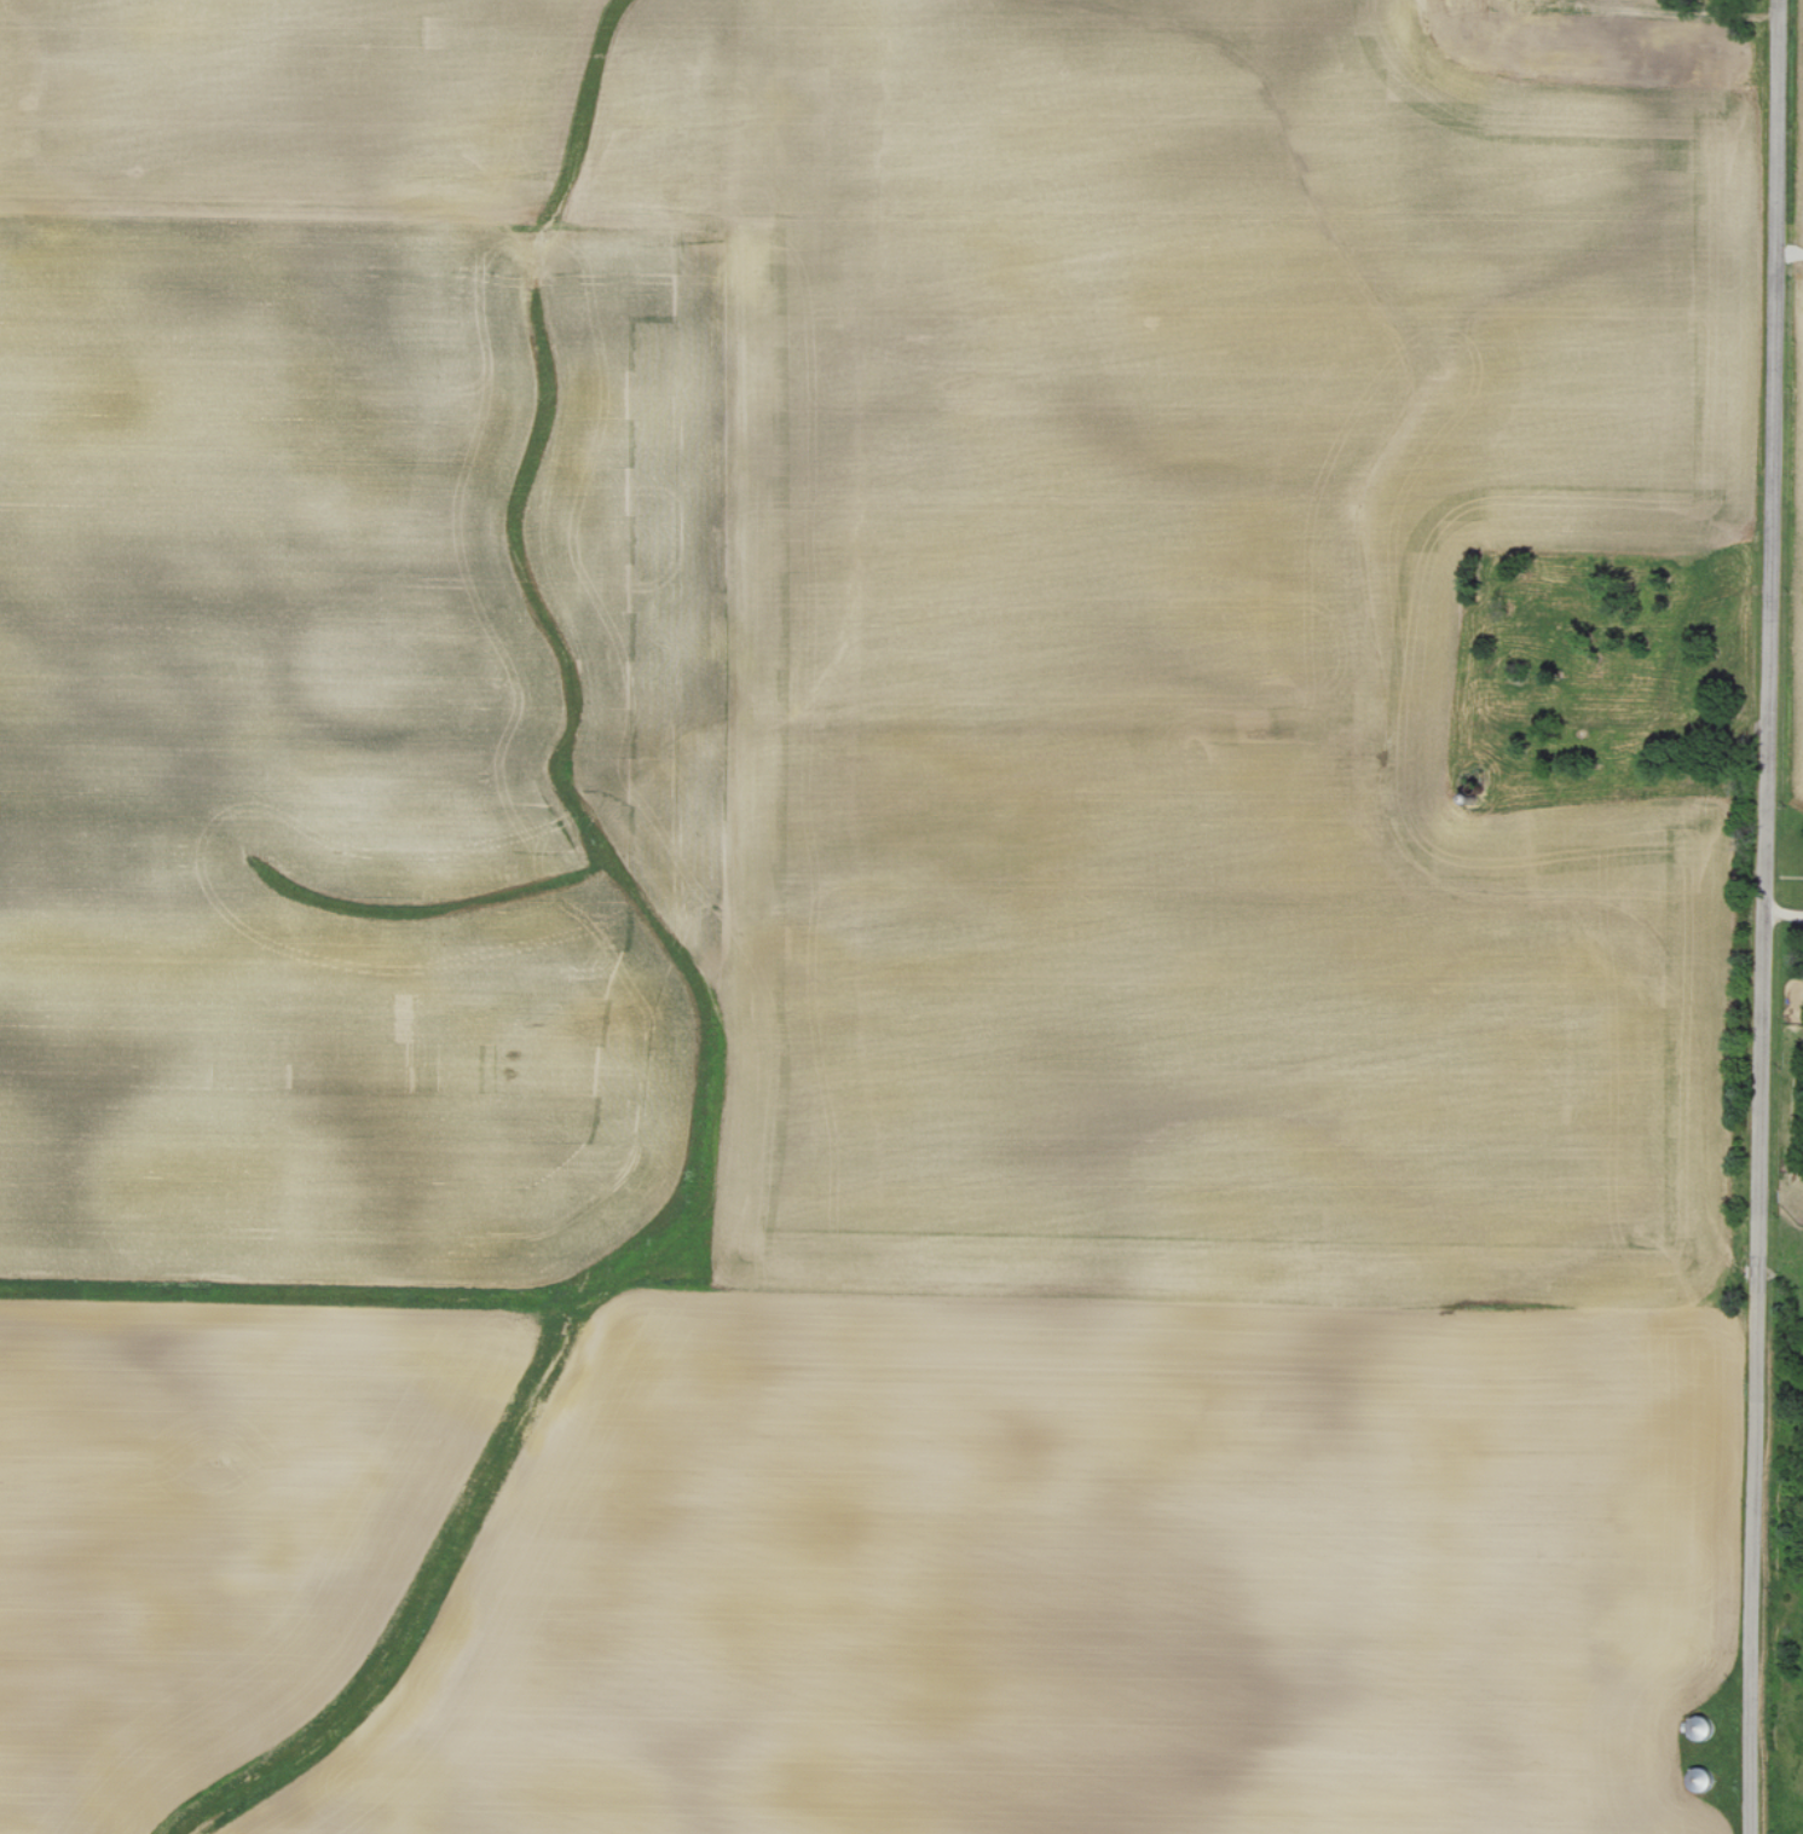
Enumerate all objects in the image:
road: (1768, 916)

